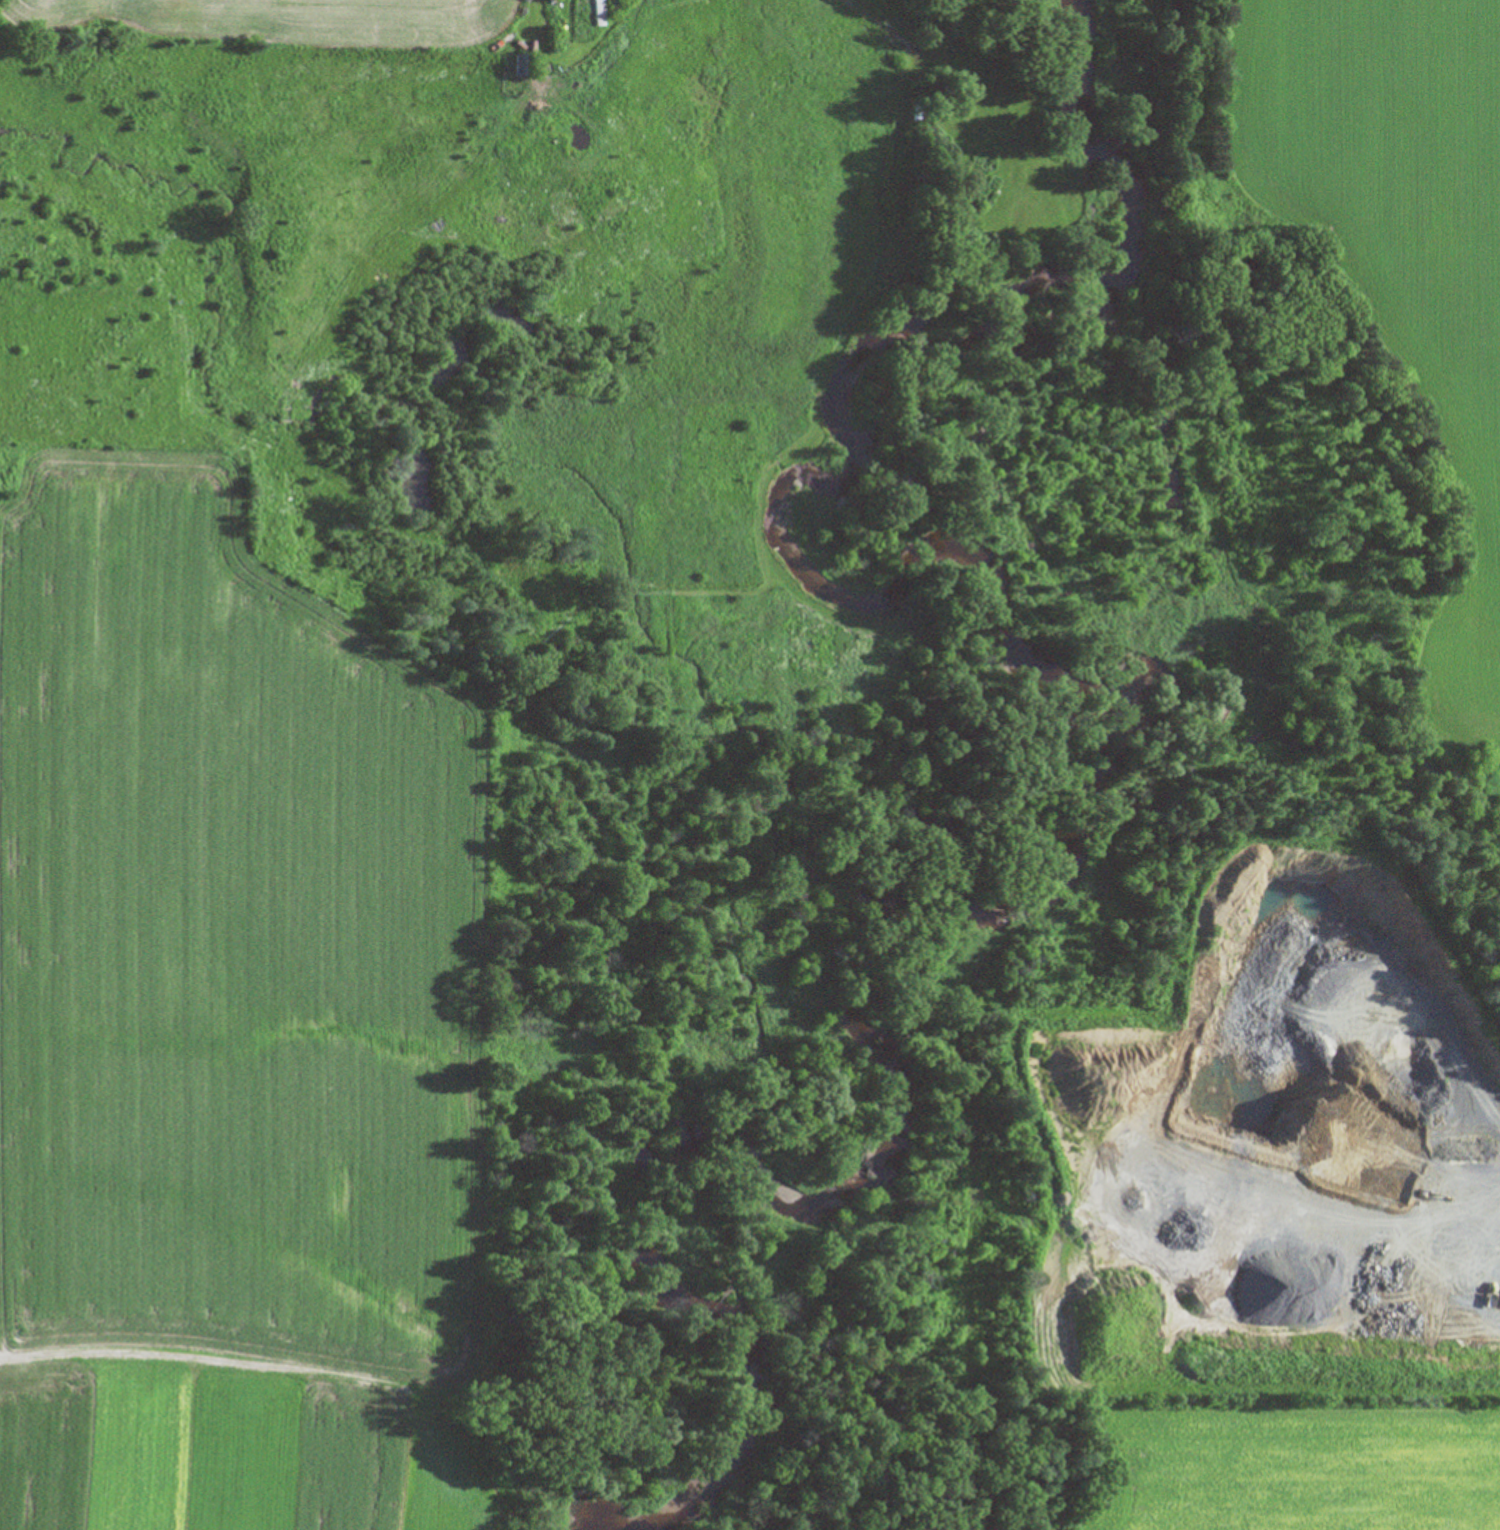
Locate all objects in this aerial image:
building: (597, 12)
building: (523, 64)
building: (918, 114)
river: (1106, 253)
river: (924, 579)
river: (924, 908)
river: (823, 1184)
river: (753, 1347)

